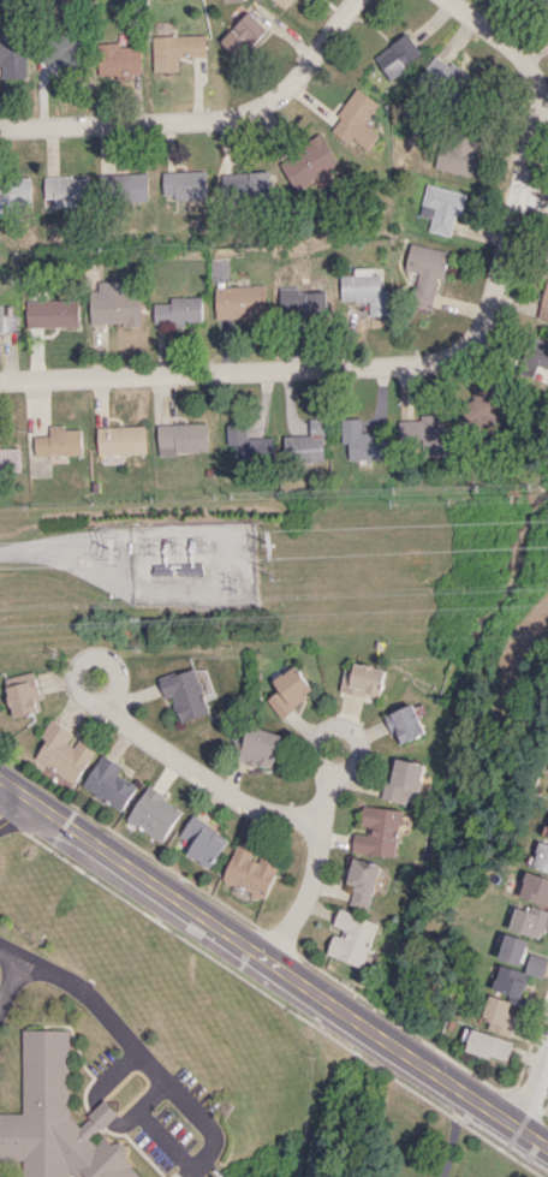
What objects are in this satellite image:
building: (282, 2)
building: (541, 4)
building: (242, 34)
road: (488, 34)
building: (174, 49)
building: (62, 53)
building: (398, 54)
building: (12, 55)
building: (118, 60)
building: (446, 78)
road: (202, 119)
building: (356, 120)
building: (458, 151)
building: (308, 165)
building: (184, 184)
building: (245, 185)
building: (126, 186)
building: (14, 192)
building: (441, 207)
building: (547, 264)
building: (425, 272)
building: (365, 290)
building: (115, 302)
building: (239, 302)
building: (302, 303)
building: (544, 303)
building: (178, 310)
building: (50, 313)
building: (6, 321)
building: (541, 362)
road: (379, 365)
building: (427, 433)
building: (181, 438)
building: (120, 440)
building: (363, 440)
building: (58, 444)
building: (306, 444)
building: (249, 447)
building: (8, 459)
power tower: (288, 547)
road: (35, 552)
power substation: (196, 563)
building: (288, 690)
building: (20, 694)
building: (184, 694)
building: (405, 723)
road: (144, 736)
building: (260, 747)
building: (62, 751)
building: (108, 781)
building: (405, 781)
road: (326, 798)
road: (7, 802)
building: (154, 813)
building: (379, 830)
building: (199, 840)
building: (542, 852)
building: (249, 869)
building: (363, 881)
building: (535, 887)
building: (529, 920)
building: (352, 937)
building: (512, 949)
road: (274, 965)
road: (13, 983)
building: (511, 992)
building: (489, 1045)
road: (111, 1072)
road: (167, 1078)
road: (532, 1090)
road: (105, 1112)
building: (58, 1119)
road: (448, 1133)

